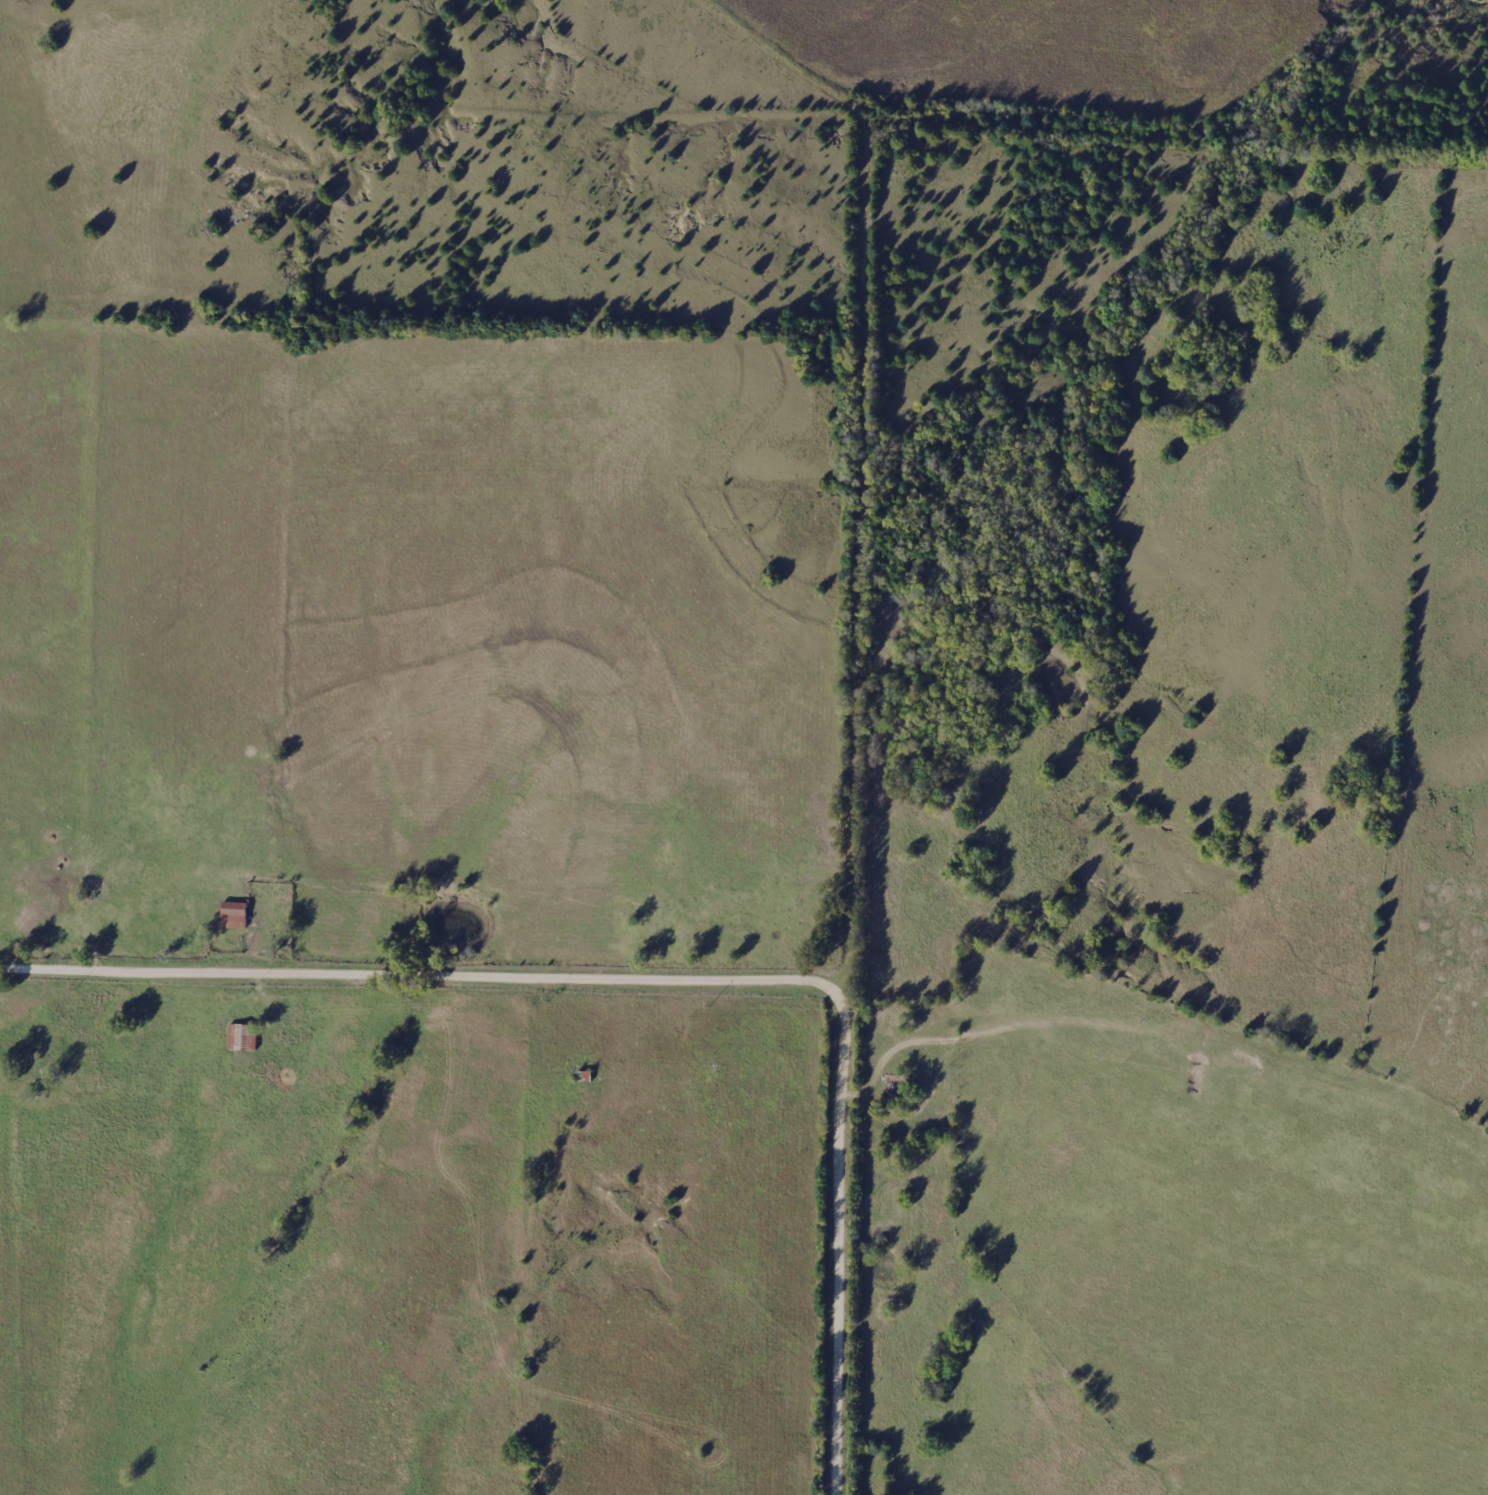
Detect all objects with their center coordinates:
road: (842, 377)
building: (233, 916)
road: (412, 960)
road: (825, 1232)

